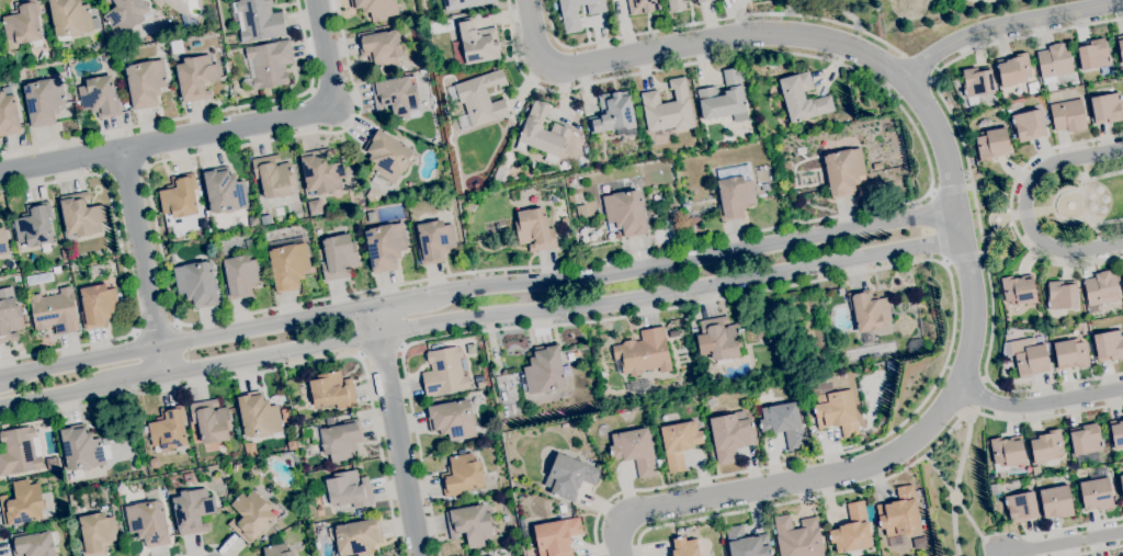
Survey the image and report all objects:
building: (106, 0)
building: (701, 1)
building: (464, 3)
building: (676, 5)
building: (376, 7)
building: (642, 7)
road: (792, 7)
building: (577, 12)
building: (125, 13)
road: (849, 13)
building: (70, 19)
building: (260, 20)
road: (713, 20)
building: (188, 22)
building: (23, 23)
road: (1008, 24)
road: (770, 34)
building: (111, 35)
building: (156, 36)
building: (474, 42)
building: (177, 47)
building: (379, 47)
building: (1120, 47)
road: (328, 53)
building: (1092, 54)
building: (1054, 61)
building: (270, 63)
road: (920, 67)
building: (1013, 69)
building: (195, 77)
building: (1070, 79)
building: (11, 81)
building: (976, 81)
building: (146, 82)
building: (396, 95)
building: (100, 97)
building: (723, 98)
building: (802, 98)
building: (478, 99)
building: (44, 101)
building: (125, 104)
building: (1107, 107)
building: (668, 109)
road: (200, 114)
building: (614, 114)
building: (8, 115)
building: (1068, 115)
building: (984, 122)
building: (1028, 124)
building: (508, 126)
building: (410, 131)
building: (541, 133)
road: (169, 141)
building: (991, 144)
building: (707, 145)
building: (586, 150)
building: (387, 155)
building: (322, 171)
building: (843, 171)
building: (528, 173)
building: (273, 175)
road: (1102, 175)
road: (1081, 186)
road: (951, 188)
building: (224, 191)
building: (735, 191)
road: (974, 195)
building: (372, 196)
building: (181, 198)
building: (295, 198)
park: (1080, 202)
road: (1086, 202)
road: (989, 205)
road: (1010, 205)
building: (315, 207)
building: (591, 208)
road: (1026, 208)
building: (581, 211)
road: (1043, 211)
building: (363, 212)
building: (625, 212)
building: (673, 213)
road: (1021, 214)
building: (81, 215)
building: (265, 219)
road: (1088, 219)
building: (253, 222)
building: (565, 222)
road: (1108, 222)
road: (958, 224)
building: (34, 225)
road: (940, 225)
building: (534, 229)
building: (266, 237)
road: (994, 240)
building: (434, 241)
building: (2, 242)
building: (384, 246)
building: (318, 254)
building: (338, 257)
road: (965, 258)
road: (590, 260)
road: (141, 261)
building: (288, 262)
road: (693, 262)
building: (8, 264)
road: (124, 268)
building: (56, 270)
building: (95, 271)
building: (242, 272)
building: (1122, 273)
road: (839, 275)
building: (39, 279)
building: (1119, 279)
building: (196, 283)
building: (1018, 290)
building: (1101, 290)
building: (1060, 295)
building: (120, 299)
road: (401, 304)
building: (98, 305)
road: (561, 305)
building: (869, 309)
building: (54, 311)
building: (9, 317)
road: (155, 327)
building: (1012, 333)
building: (674, 334)
building: (718, 339)
road: (186, 344)
building: (1109, 344)
road: (381, 352)
building: (647, 352)
building: (1070, 353)
building: (572, 355)
building: (1031, 360)
building: (793, 365)
road: (280, 367)
building: (544, 370)
building: (444, 371)
building: (1005, 371)
building: (710, 372)
road: (138, 375)
building: (479, 385)
building: (825, 387)
building: (331, 390)
road: (57, 392)
road: (977, 393)
building: (711, 402)
road: (1041, 404)
building: (837, 412)
building: (258, 416)
building: (452, 419)
building: (211, 420)
building: (783, 423)
building: (168, 428)
road: (397, 432)
building: (1116, 433)
building: (145, 434)
building: (730, 434)
building: (337, 438)
building: (679, 443)
building: (1086, 443)
building: (292, 445)
building: (79, 446)
building: (1046, 446)
building: (122, 449)
building: (249, 450)
building: (18, 451)
building: (634, 451)
building: (1007, 452)
building: (154, 463)
building: (658, 463)
building: (254, 469)
road: (859, 469)
building: (1035, 469)
building: (461, 475)
building: (568, 476)
building: (188, 477)
road: (882, 479)
building: (1029, 480)
road: (957, 481)
building: (1121, 481)
building: (1014, 483)
building: (492, 486)
building: (994, 488)
building: (232, 490)
building: (348, 490)
building: (1096, 493)
building: (1056, 501)
building: (23, 503)
building: (1020, 507)
building: (561, 508)
road: (961, 508)
building: (192, 510)
building: (899, 513)
building: (251, 515)
building: (506, 518)
building: (148, 520)
building: (473, 523)
road: (1059, 529)
building: (853, 530)
building: (97, 533)
building: (556, 536)
building: (797, 536)
building: (264, 537)
building: (355, 537)
building: (896, 541)
building: (746, 543)
building: (770, 543)
building: (919, 543)
road: (1064, 543)
building: (33, 544)
road: (209, 546)
building: (684, 547)
building: (276, 551)
road: (1096, 551)
building: (489, 555)
road: (1005, 555)
road: (1007, 555)

